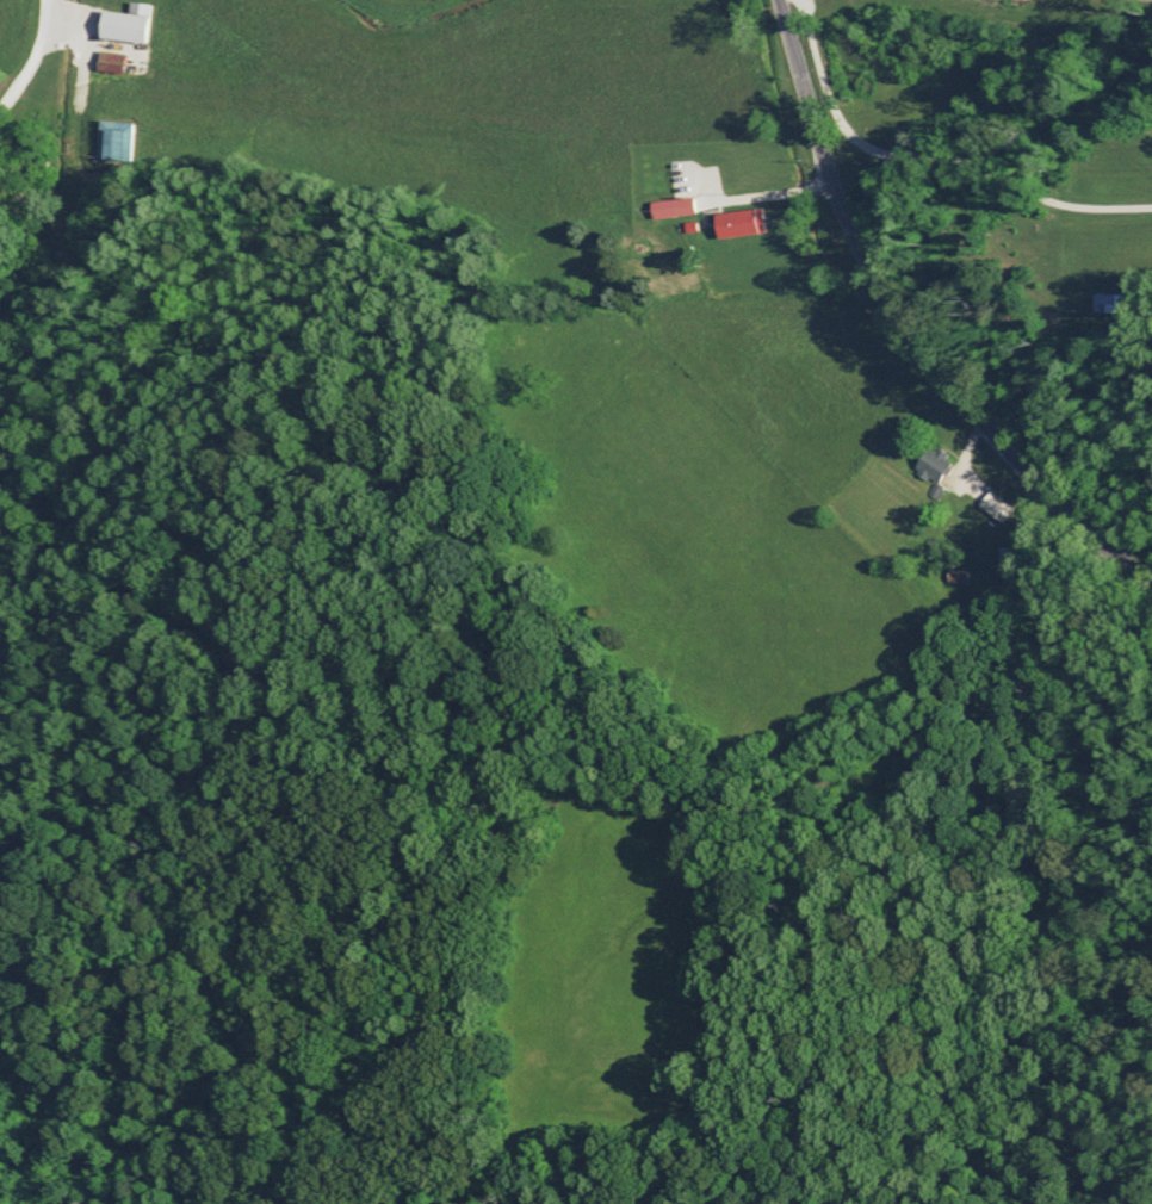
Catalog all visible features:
building: (124, 23)
road: (32, 61)
building: (109, 61)
building: (670, 207)
building: (736, 222)
road: (911, 323)
building: (930, 464)
building: (997, 507)

